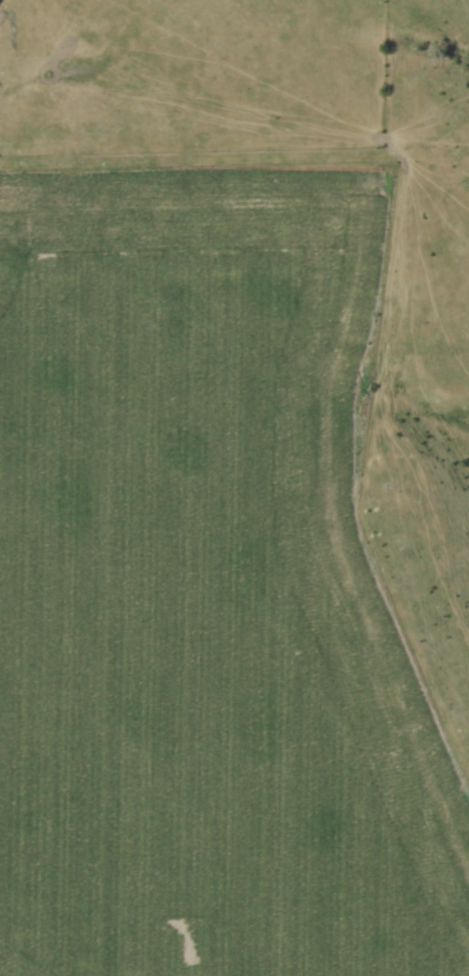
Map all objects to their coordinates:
crop: (204, 591)

